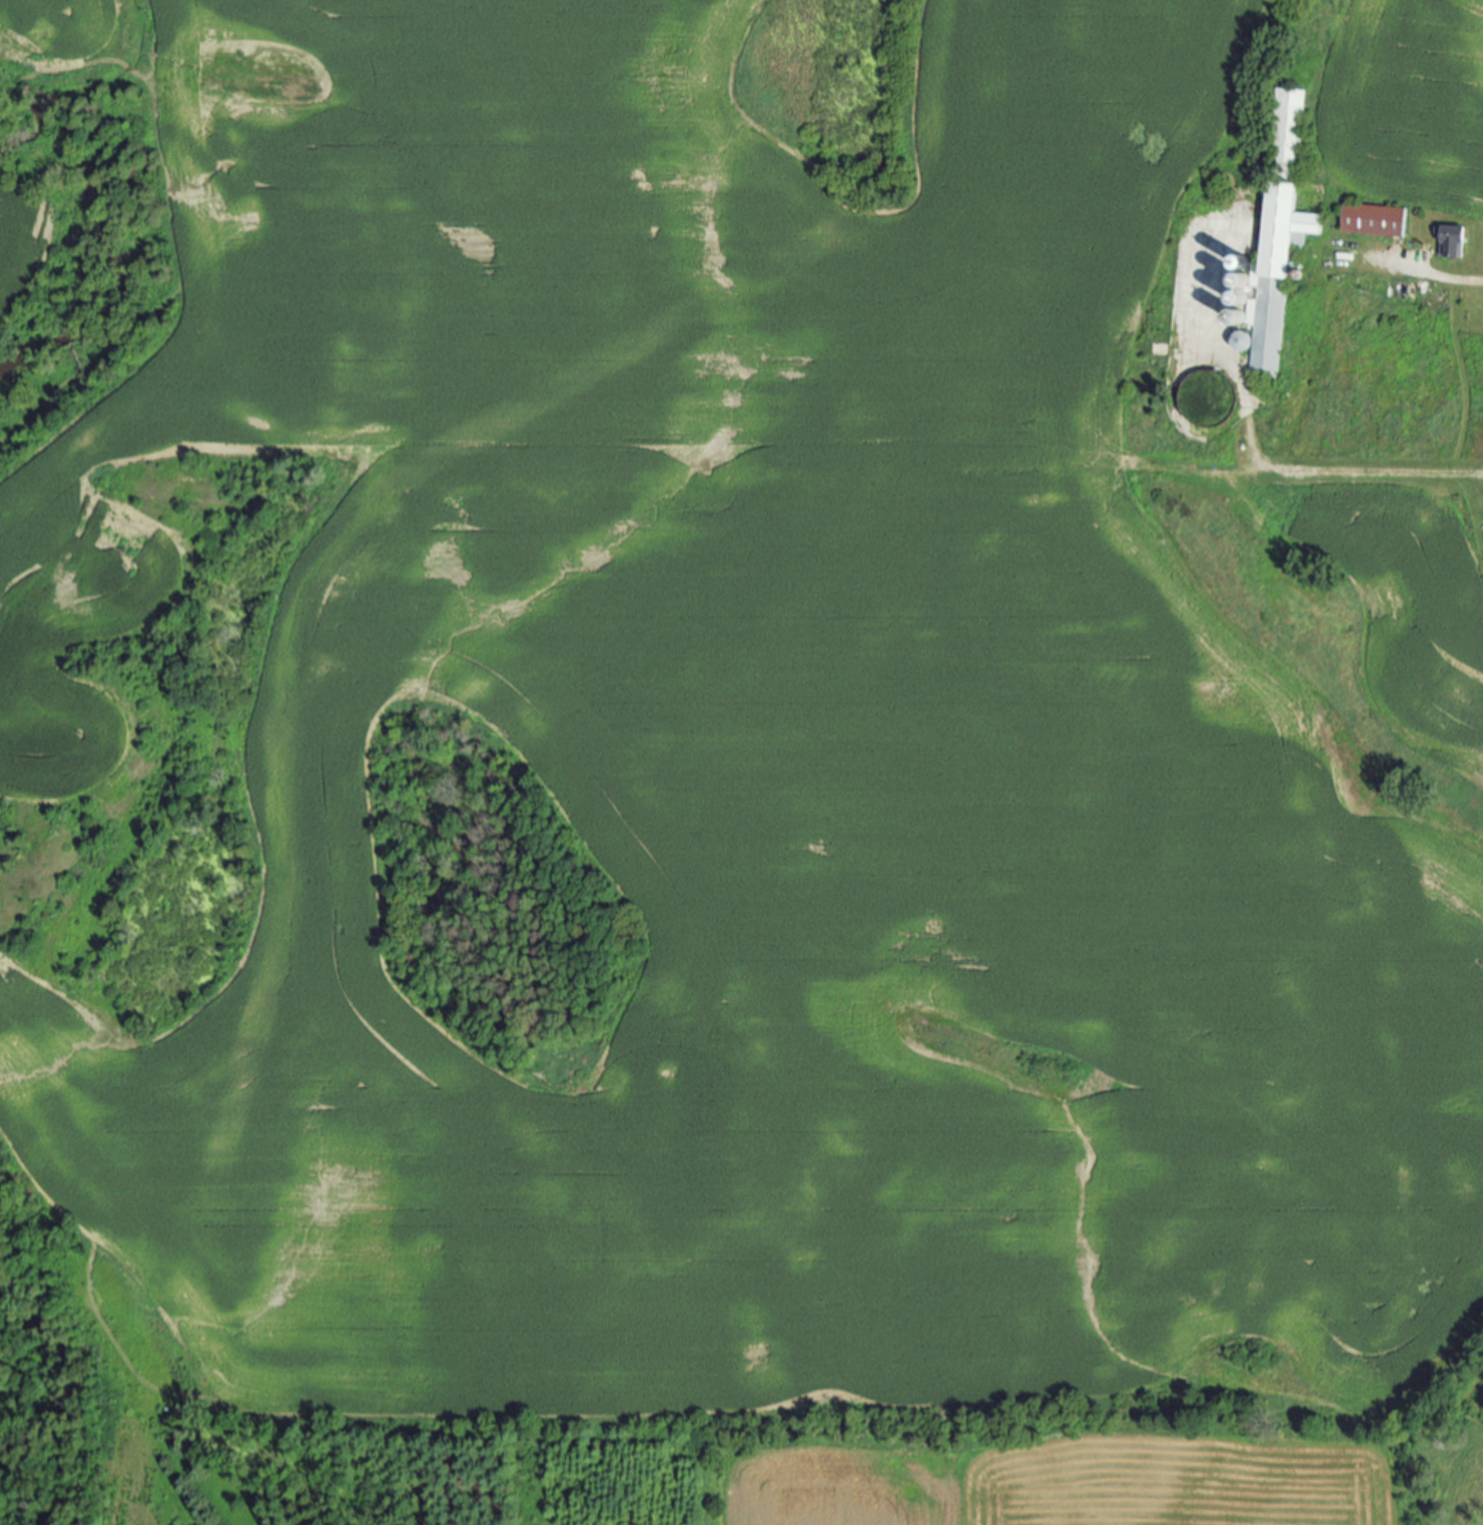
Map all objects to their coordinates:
building: (1289, 126)
building: (1377, 220)
building: (1456, 240)
road: (1433, 274)
building: (1275, 277)
road: (1275, 467)

